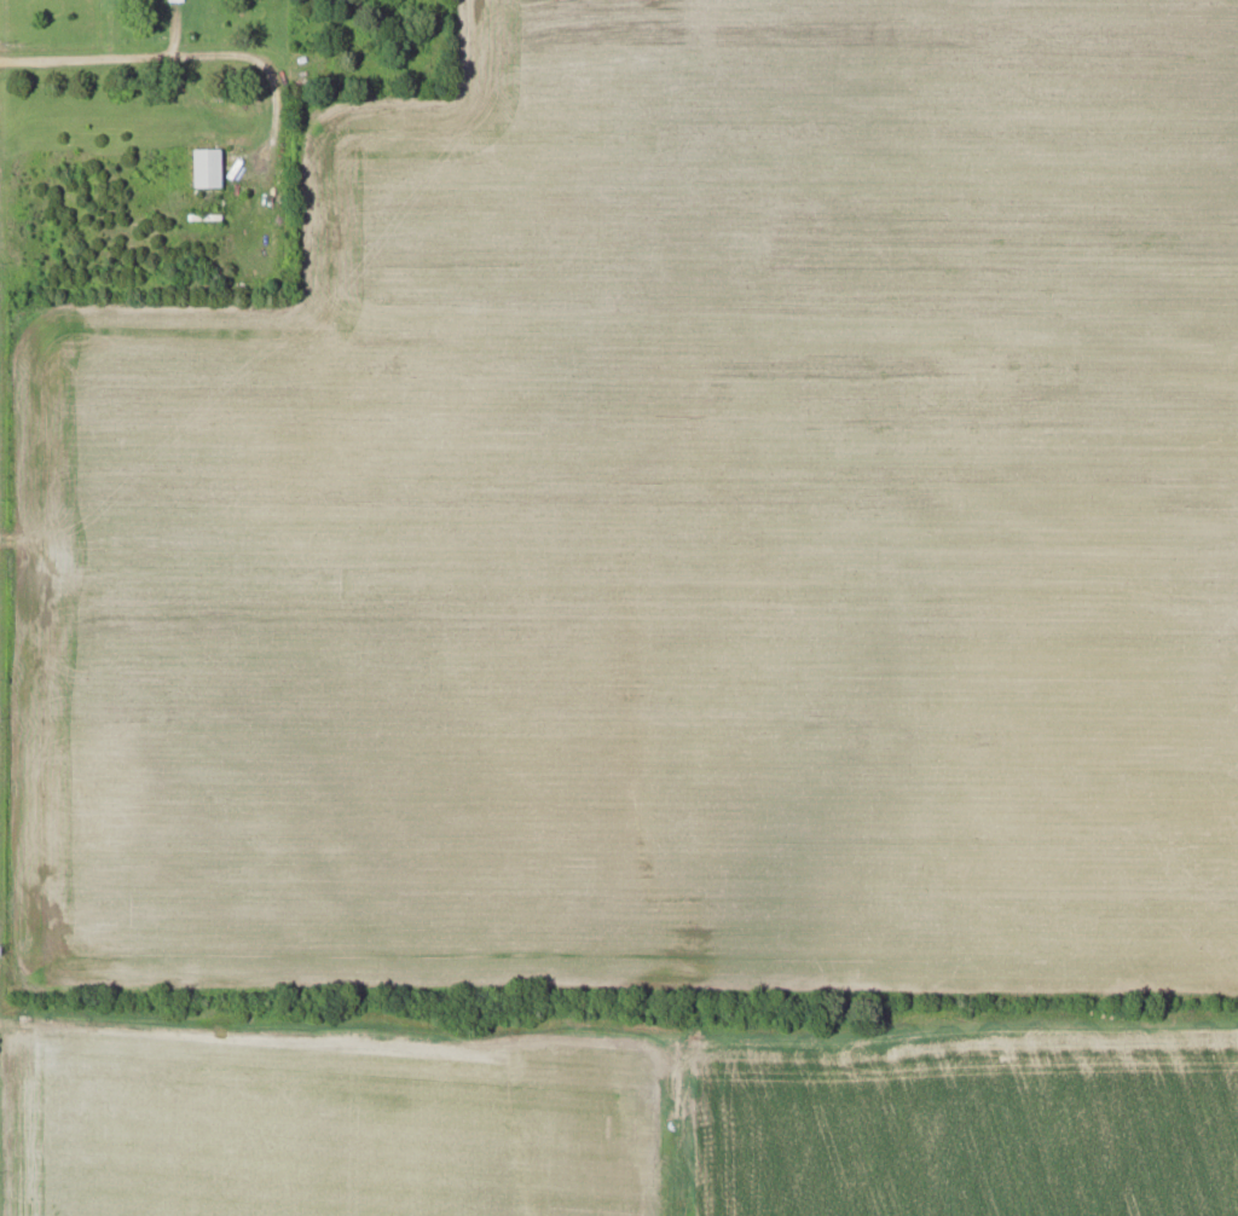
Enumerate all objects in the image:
building: (213, 167)

